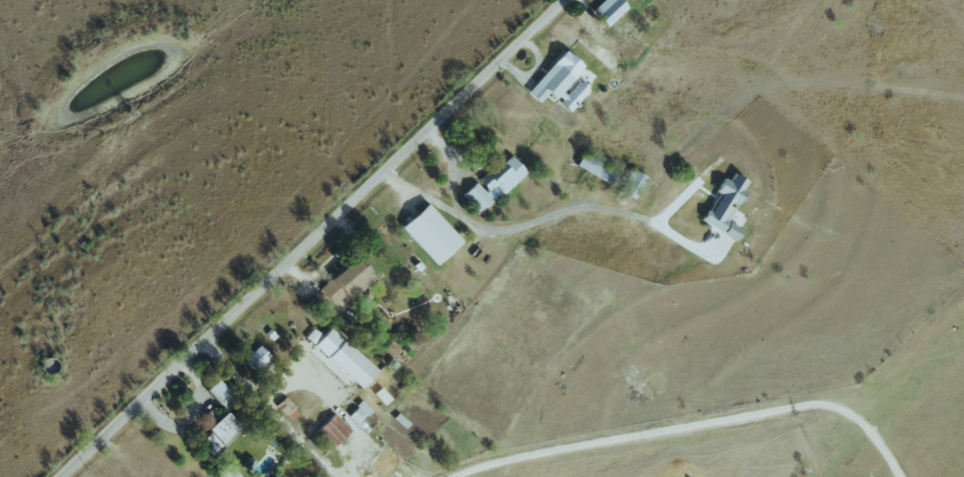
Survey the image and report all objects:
building: (555, 82)
road: (454, 168)
building: (500, 177)
building: (628, 183)
building: (472, 196)
building: (722, 203)
road: (540, 217)
building: (727, 231)
building: (425, 233)
road: (312, 238)
building: (252, 358)
building: (212, 390)
road: (337, 406)
road: (261, 412)
road: (690, 429)
building: (213, 431)

